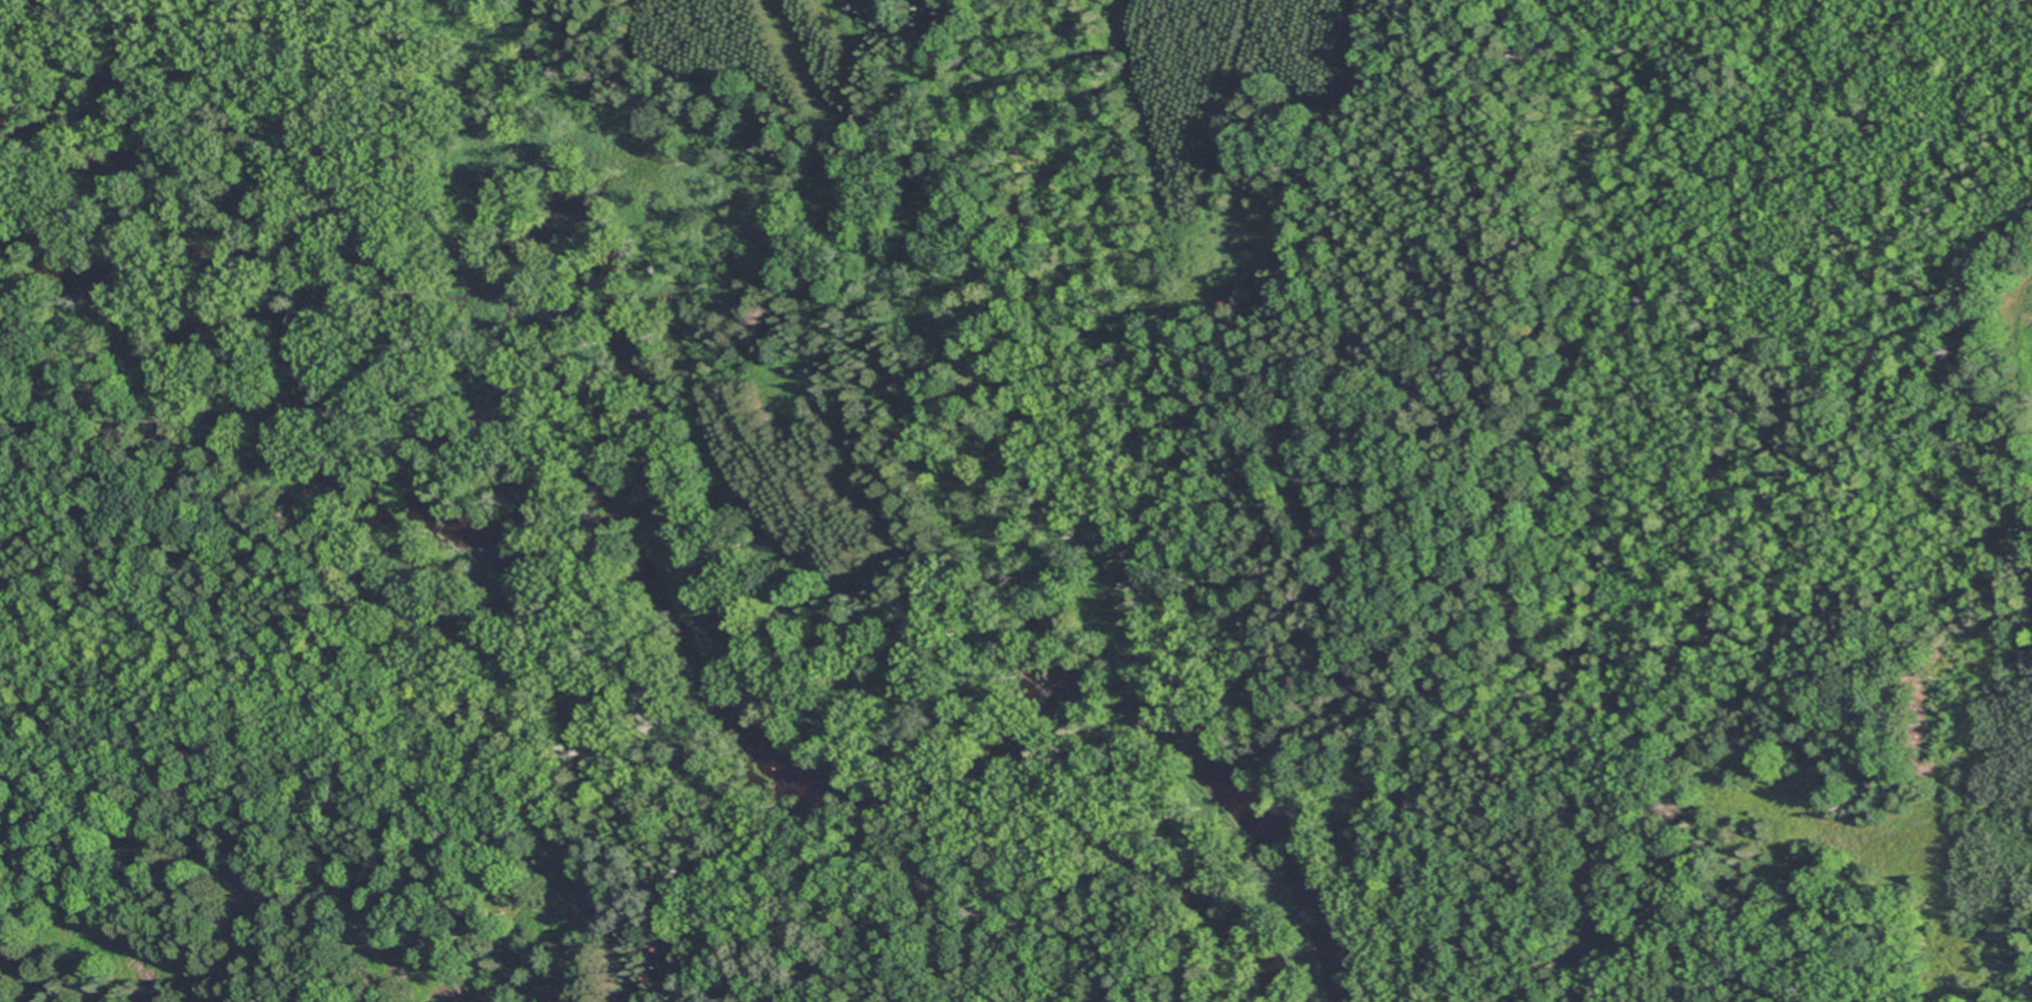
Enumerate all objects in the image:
river: (665, 526)

